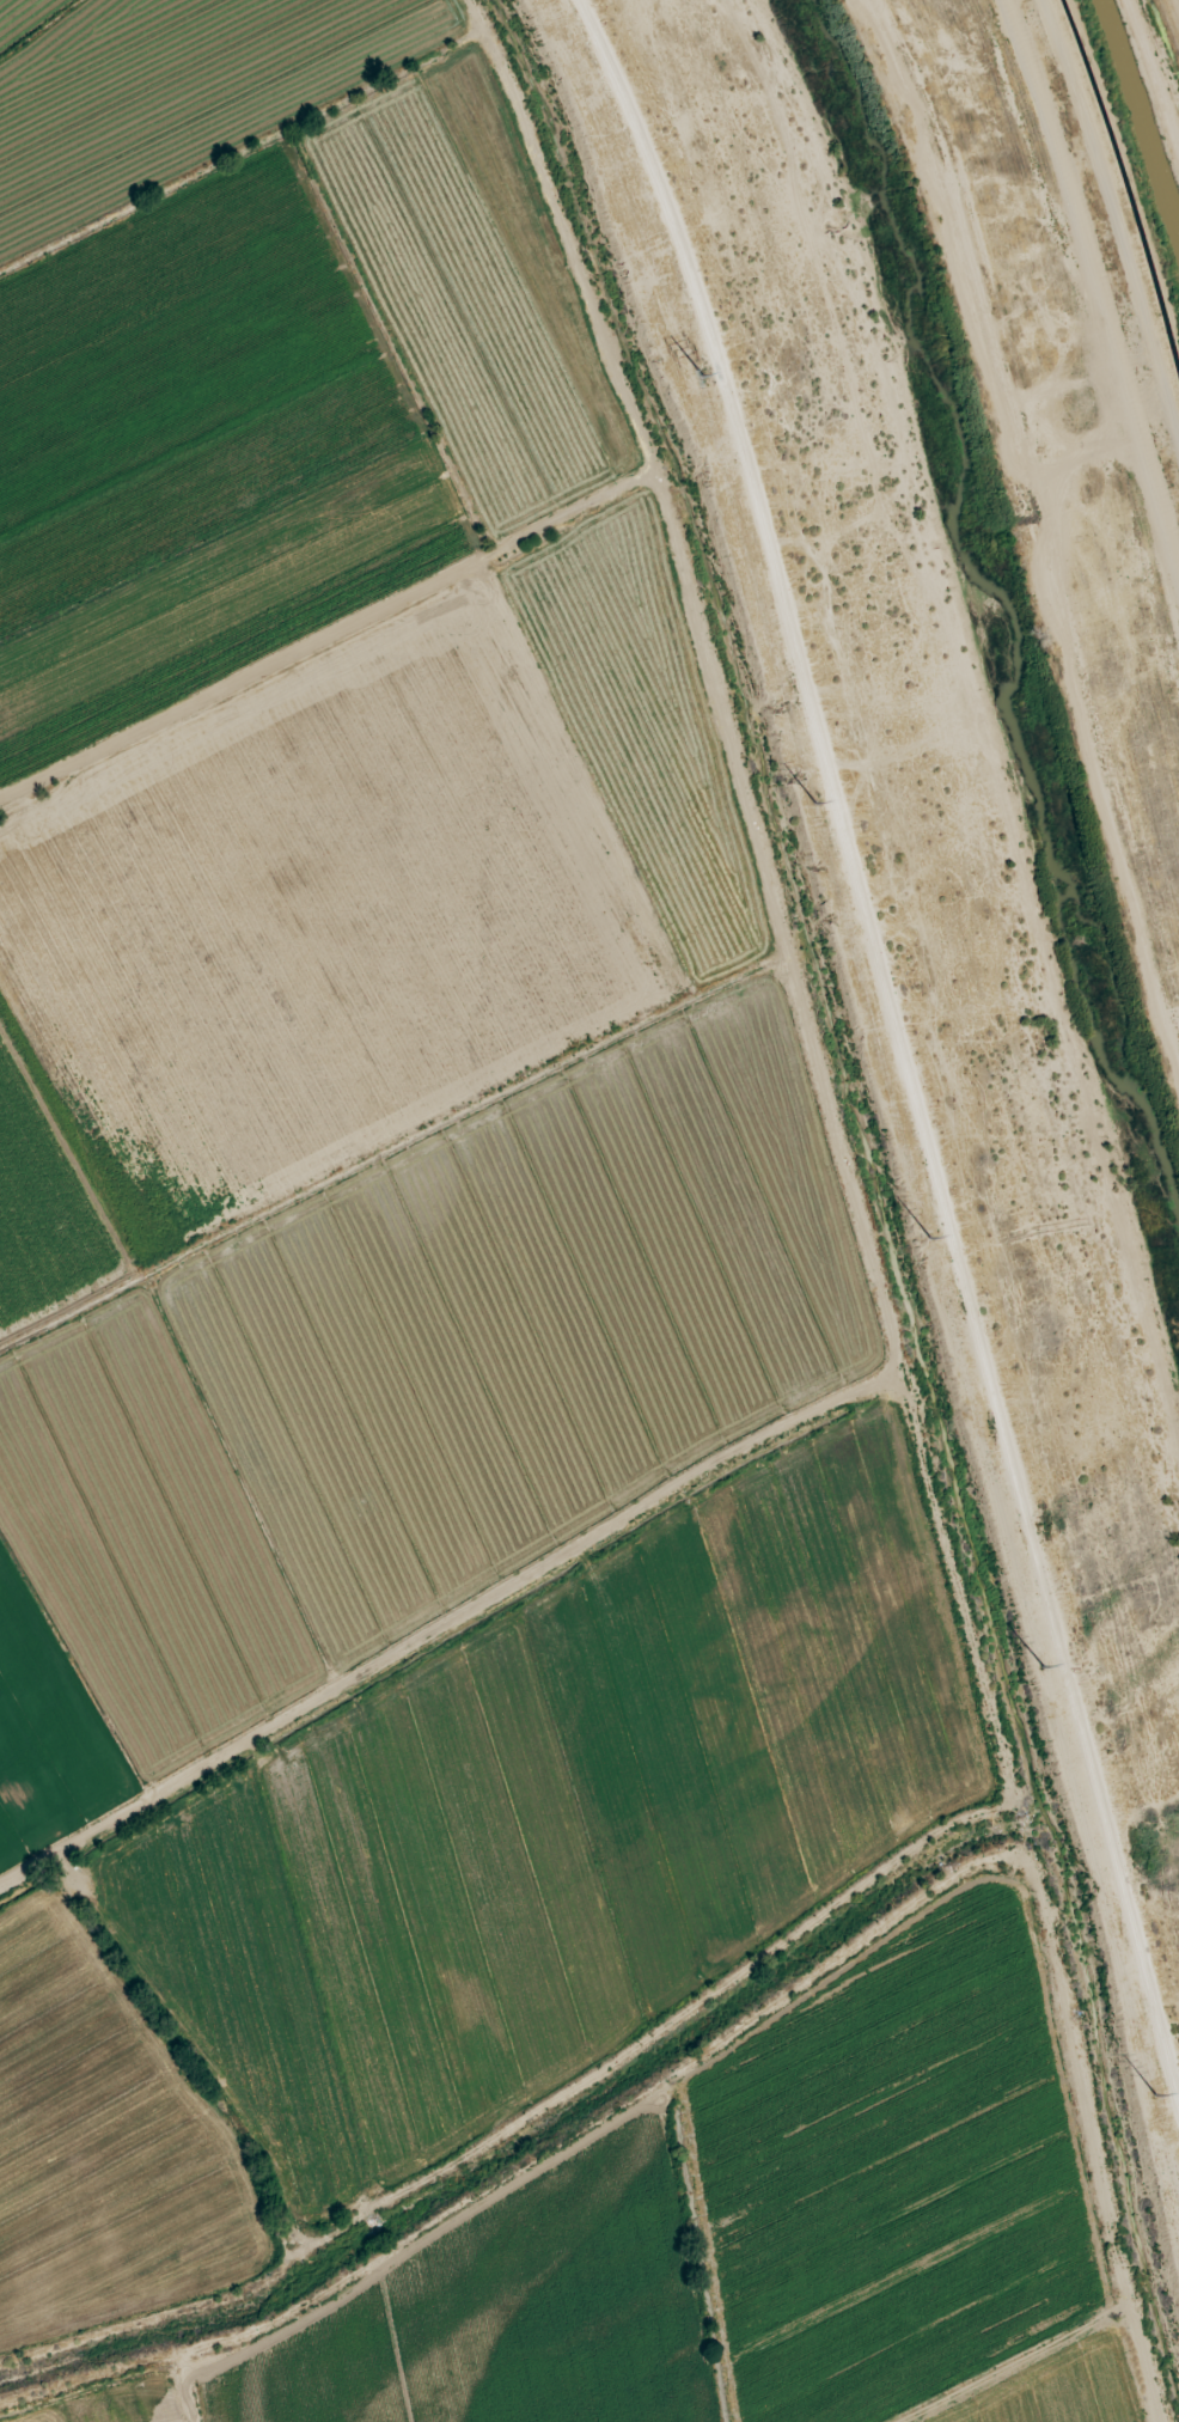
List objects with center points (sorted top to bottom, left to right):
river: (886, 181)
power tower: (700, 376)
river: (1053, 798)
power tower: (811, 807)
power tower: (923, 1239)
power tower: (1036, 1667)
power tower: (1147, 2093)

